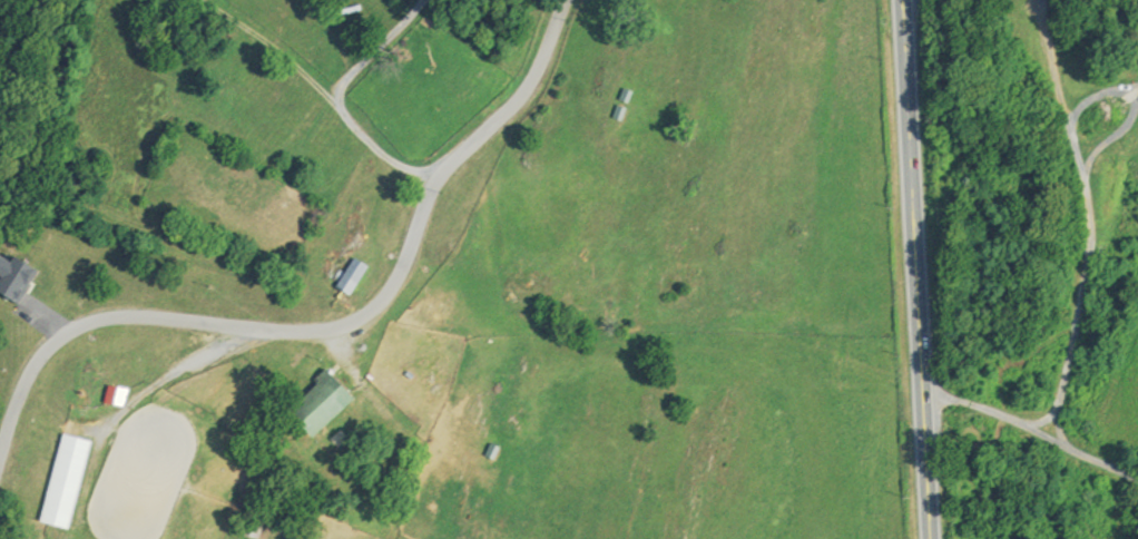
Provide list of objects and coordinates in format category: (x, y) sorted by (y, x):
road: (376, 50)
road: (323, 90)
road: (1131, 97)
road: (1126, 107)
road: (1090, 220)
road: (920, 268)
building: (359, 275)
road: (332, 331)
building: (121, 394)
building: (327, 403)
road: (1034, 432)
building: (71, 481)
building: (258, 526)

